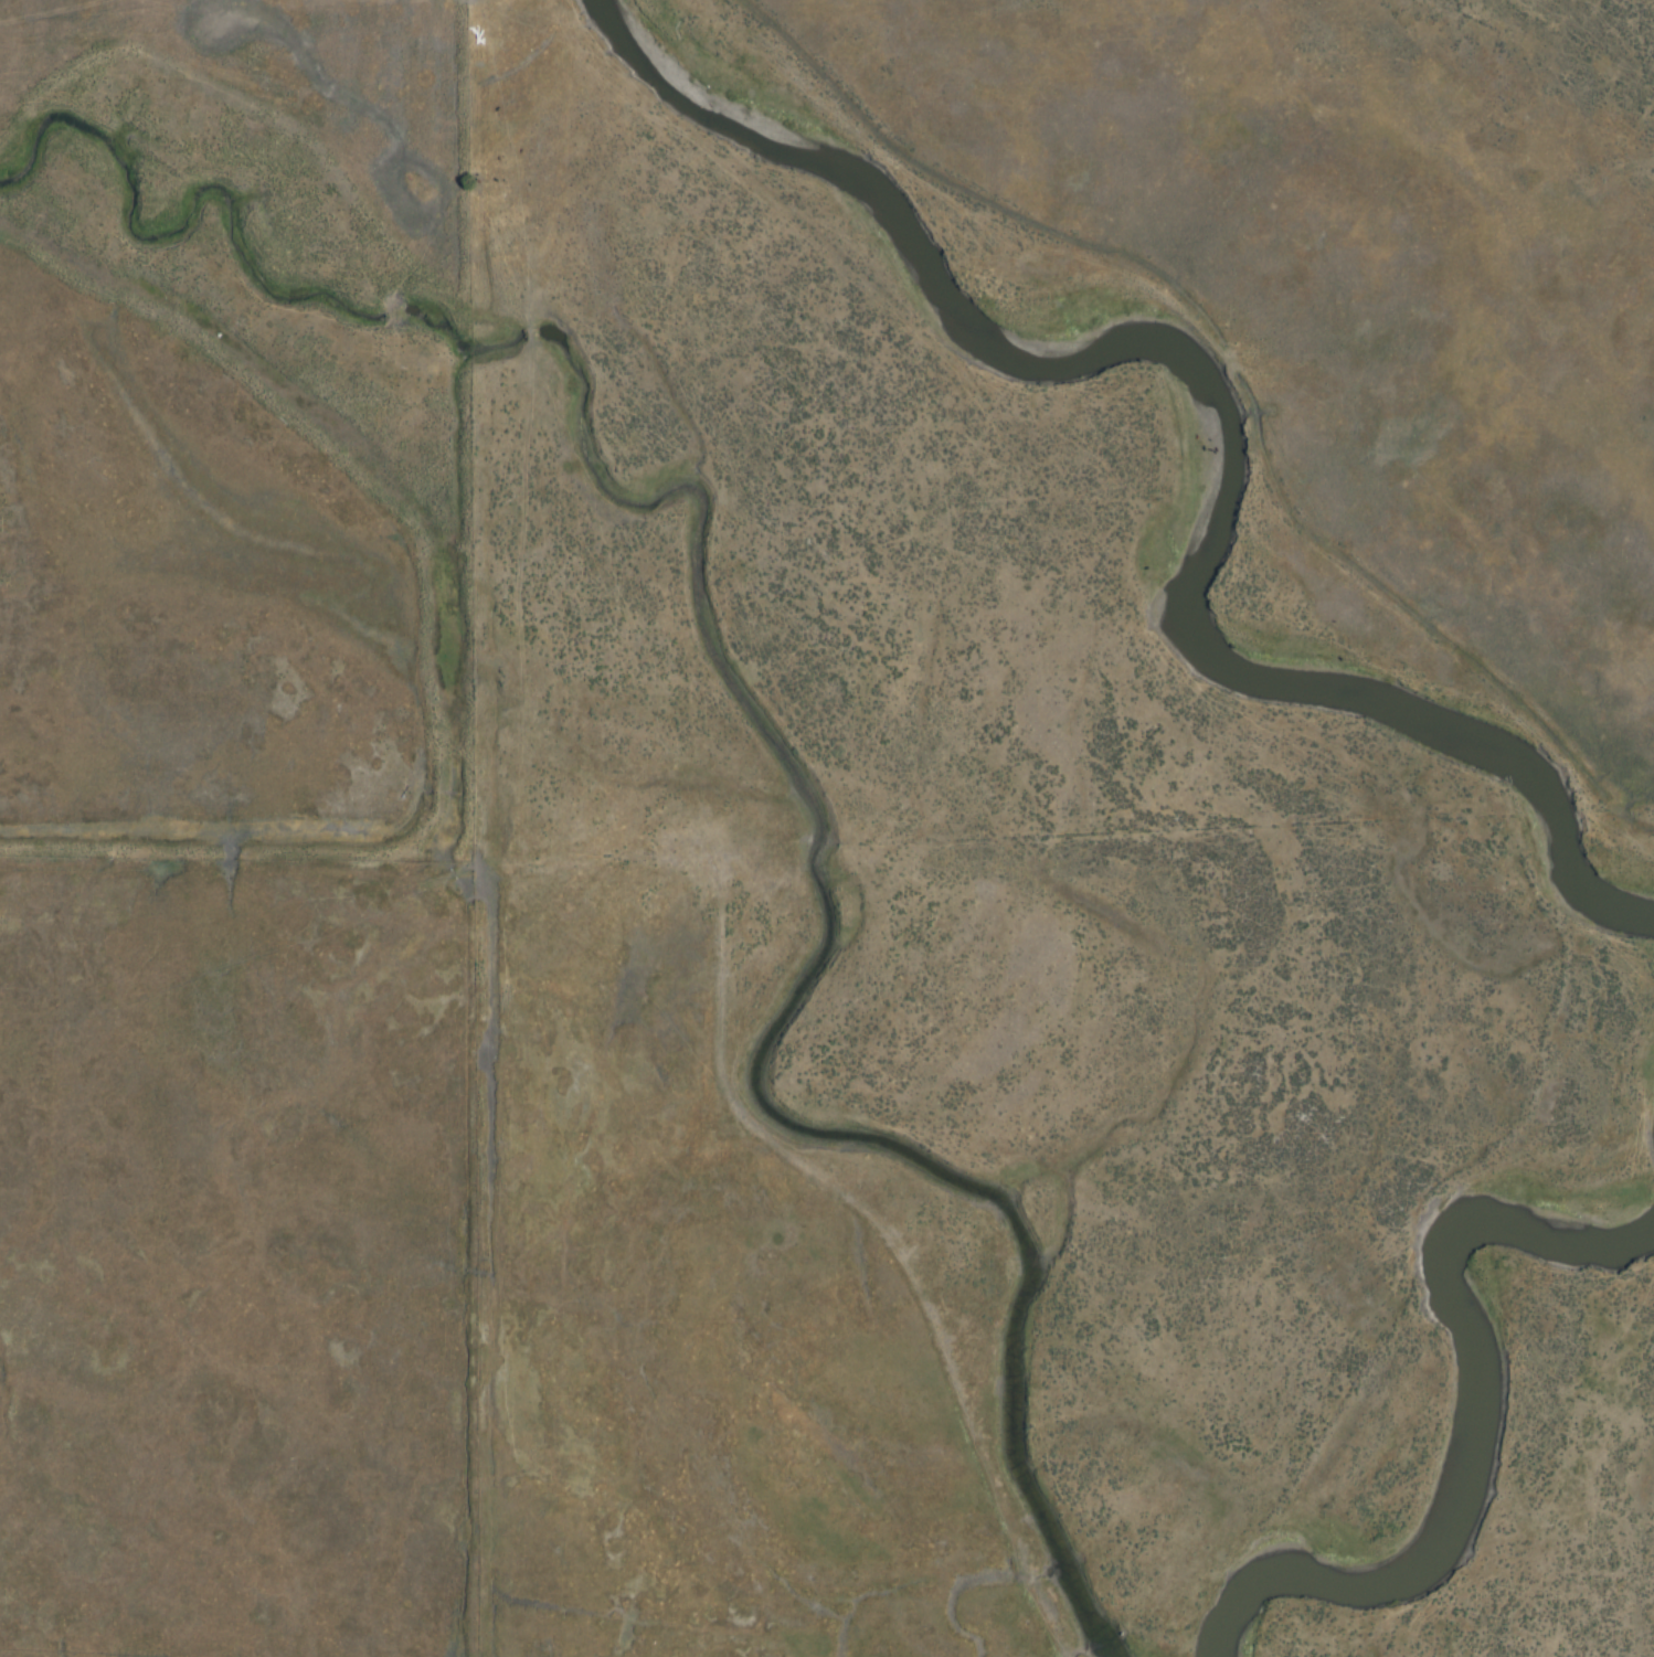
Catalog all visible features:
road: (887, 1245)

